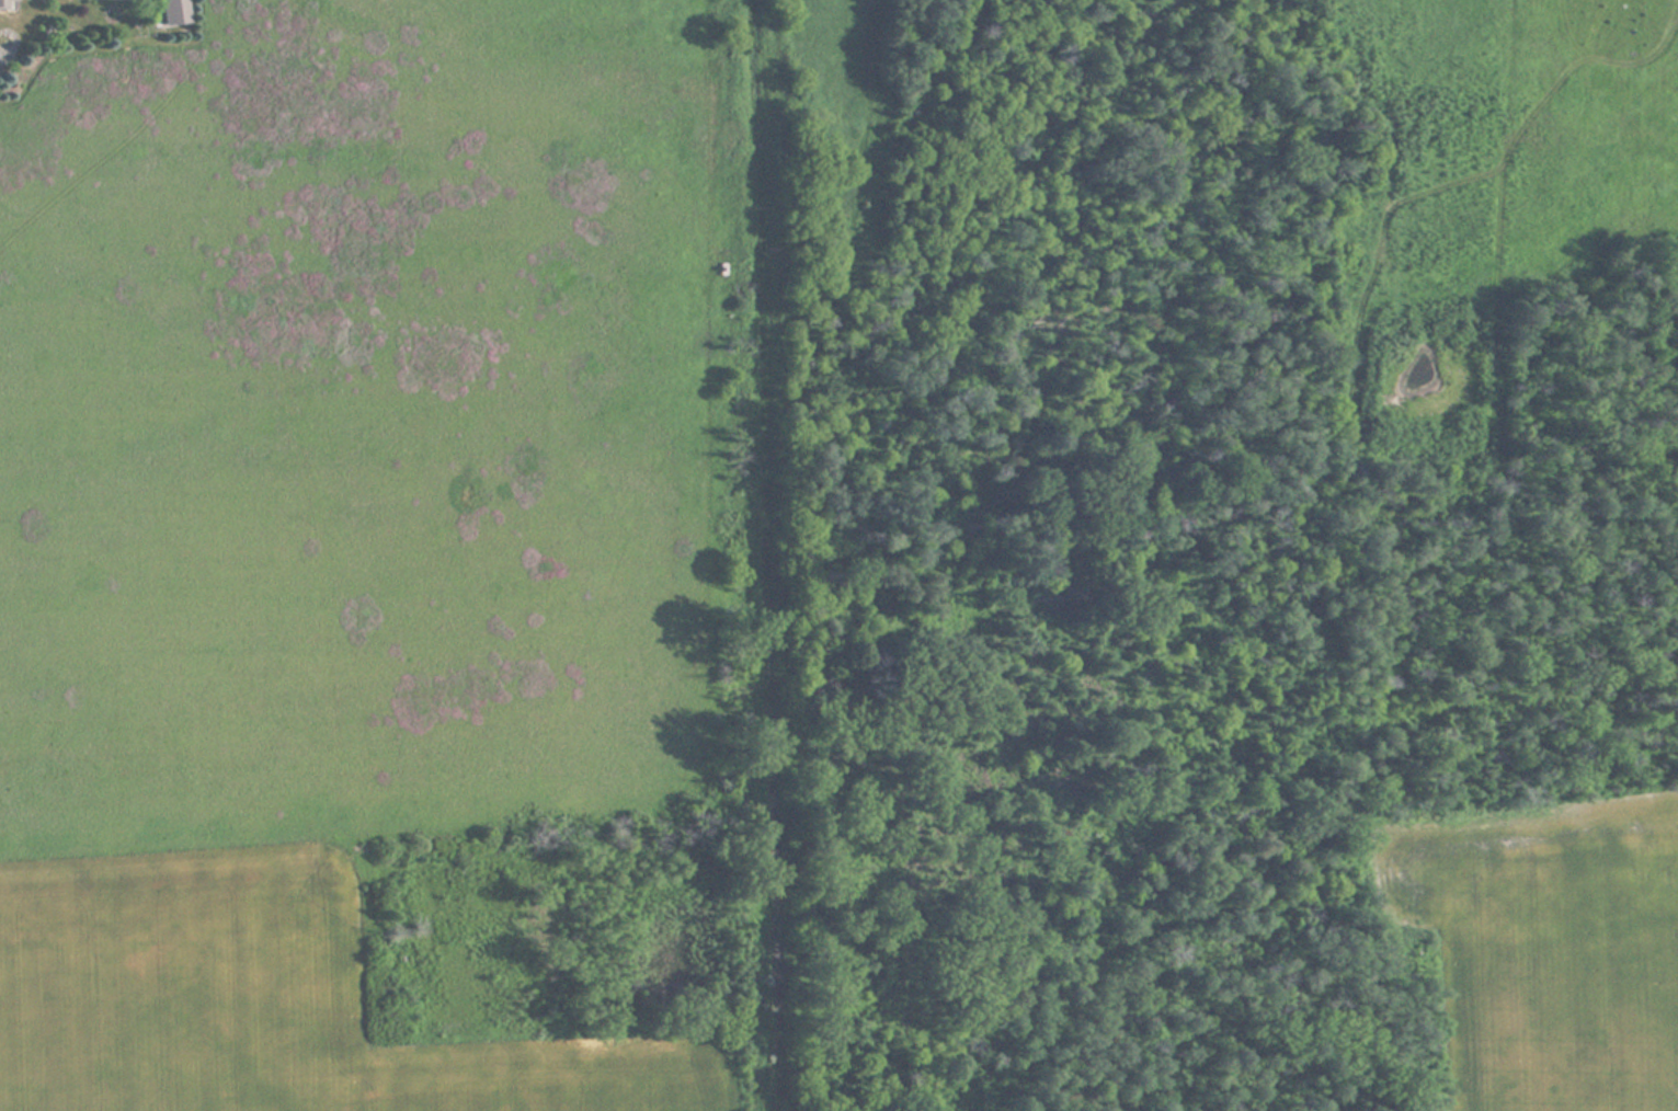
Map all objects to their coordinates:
building: (7, 3)

